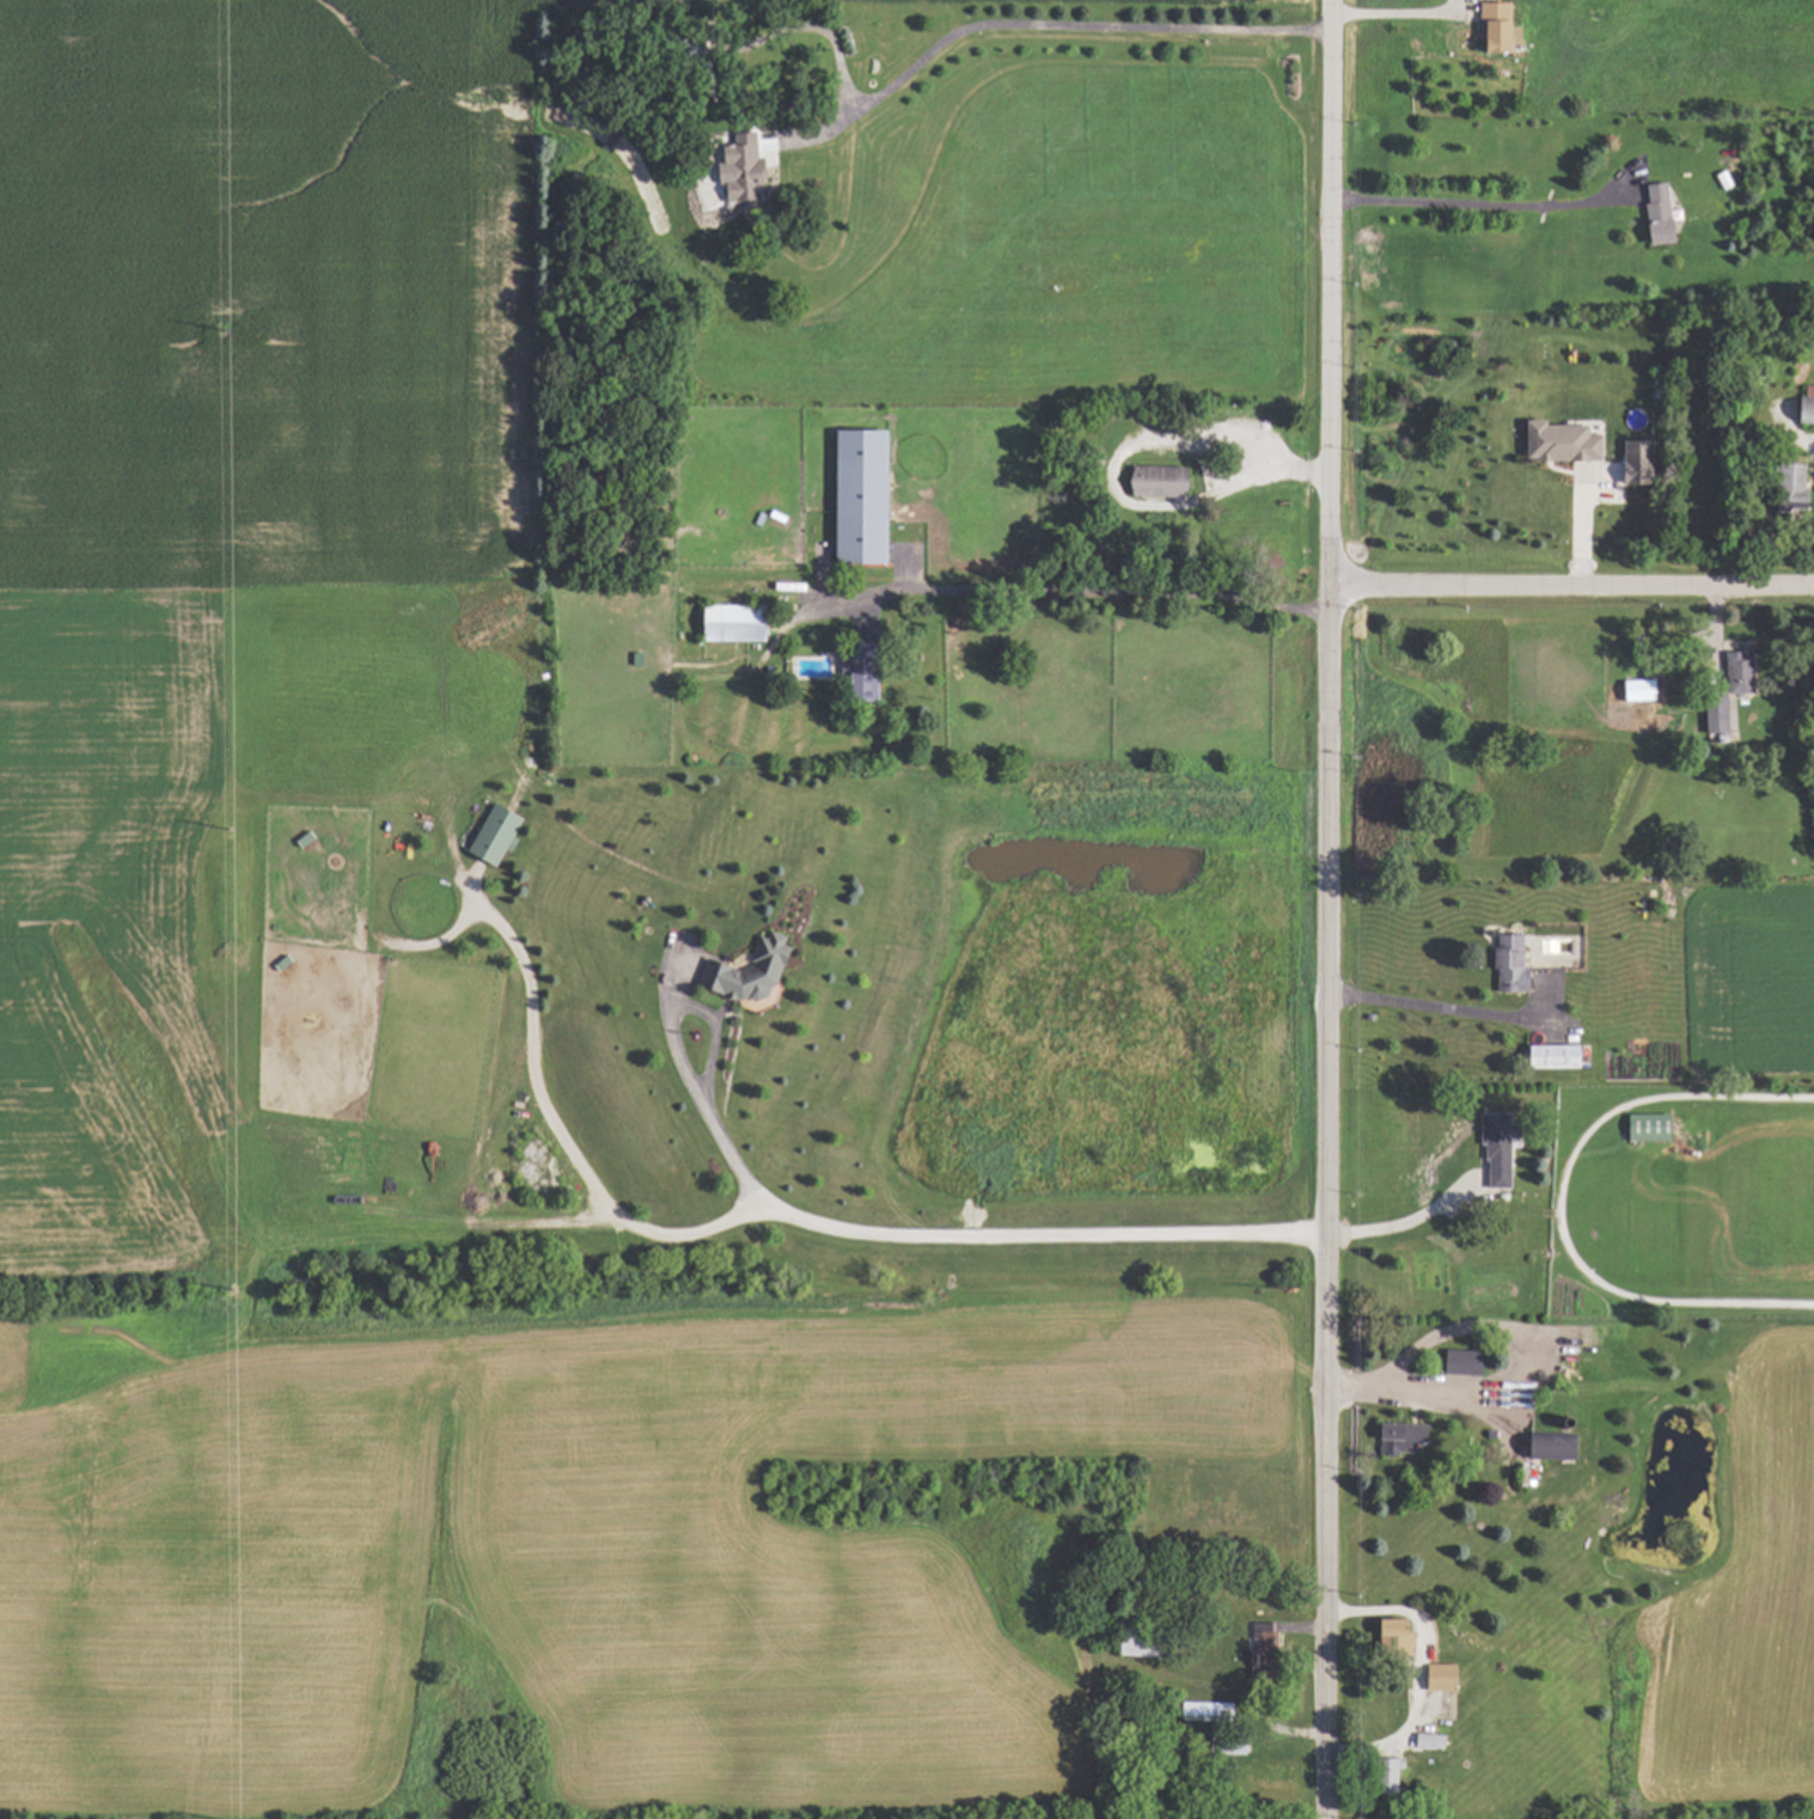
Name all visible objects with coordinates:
road: (1395, 13)
road: (1034, 25)
road: (1471, 203)
building: (1654, 215)
road: (1325, 289)
building: (1802, 407)
parking lot: (1204, 440)
building: (1555, 442)
road: (1810, 445)
building: (1626, 462)
park: (1064, 465)
road: (1106, 482)
building: (1160, 483)
building: (1785, 487)
road: (1570, 580)
road: (1089, 590)
building: (729, 623)
building: (1734, 672)
building: (854, 686)
building: (1711, 713)
building: (1505, 964)
building: (743, 973)
road: (1422, 1007)
building: (1549, 1056)
road: (710, 1128)
building: (1643, 1128)
building: (1491, 1149)
road: (1329, 1200)
road: (783, 1219)
road: (1409, 1222)
road: (1509, 1327)
building: (1455, 1363)
building: (1395, 1438)
building: (1544, 1448)
building: (1387, 1637)
road: (1422, 1670)
building: (1434, 1677)
building: (1425, 1741)
building: (1382, 1777)

